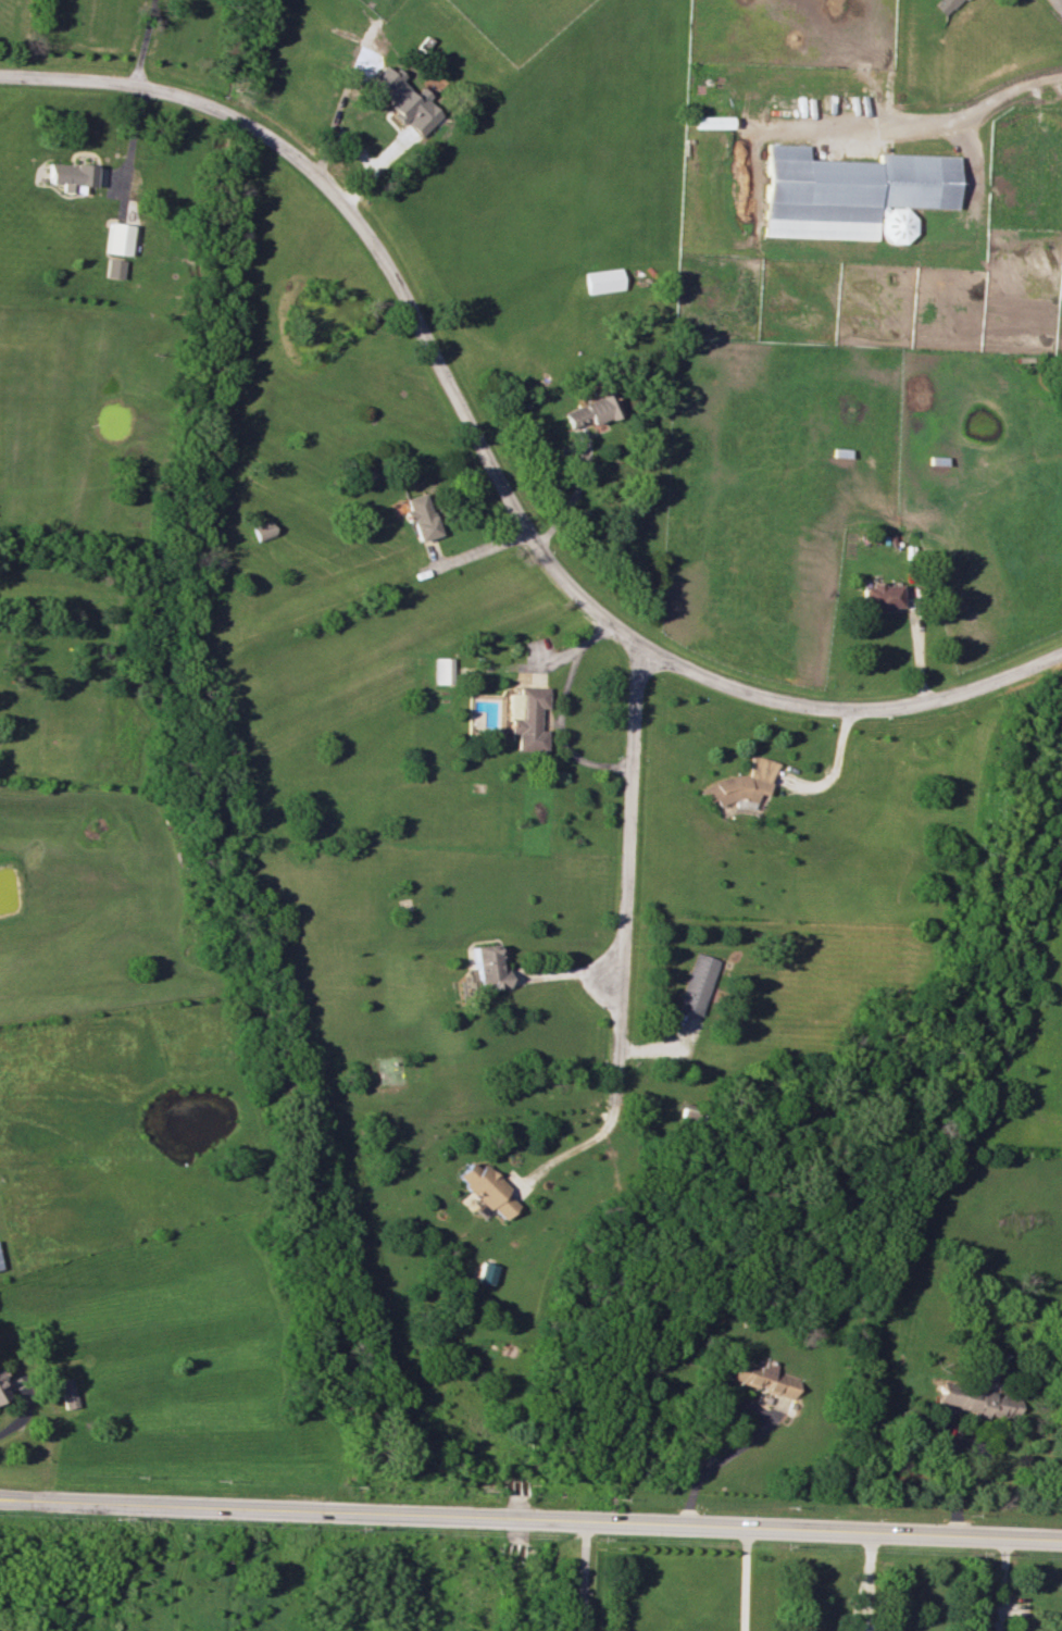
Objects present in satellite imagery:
road: (1057, 4)
building: (945, 5)
road: (139, 41)
building: (405, 99)
building: (711, 122)
road: (896, 125)
road: (129, 141)
building: (71, 175)
building: (851, 194)
building: (117, 238)
building: (114, 267)
building: (603, 279)
building: (590, 411)
road: (490, 463)
building: (421, 516)
building: (880, 596)
building: (442, 670)
road: (560, 711)
building: (527, 718)
road: (832, 763)
building: (741, 785)
road: (626, 818)
building: (487, 968)
road: (563, 971)
building: (696, 983)
road: (609, 1103)
building: (485, 1188)
building: (485, 1272)
building: (764, 1378)
building: (2, 1391)
building: (67, 1392)
building: (979, 1400)
road: (18, 1418)
road: (762, 1424)
road: (952, 1451)
road: (530, 1522)
road: (582, 1577)
road: (747, 1580)
road: (870, 1582)
road: (1000, 1585)

